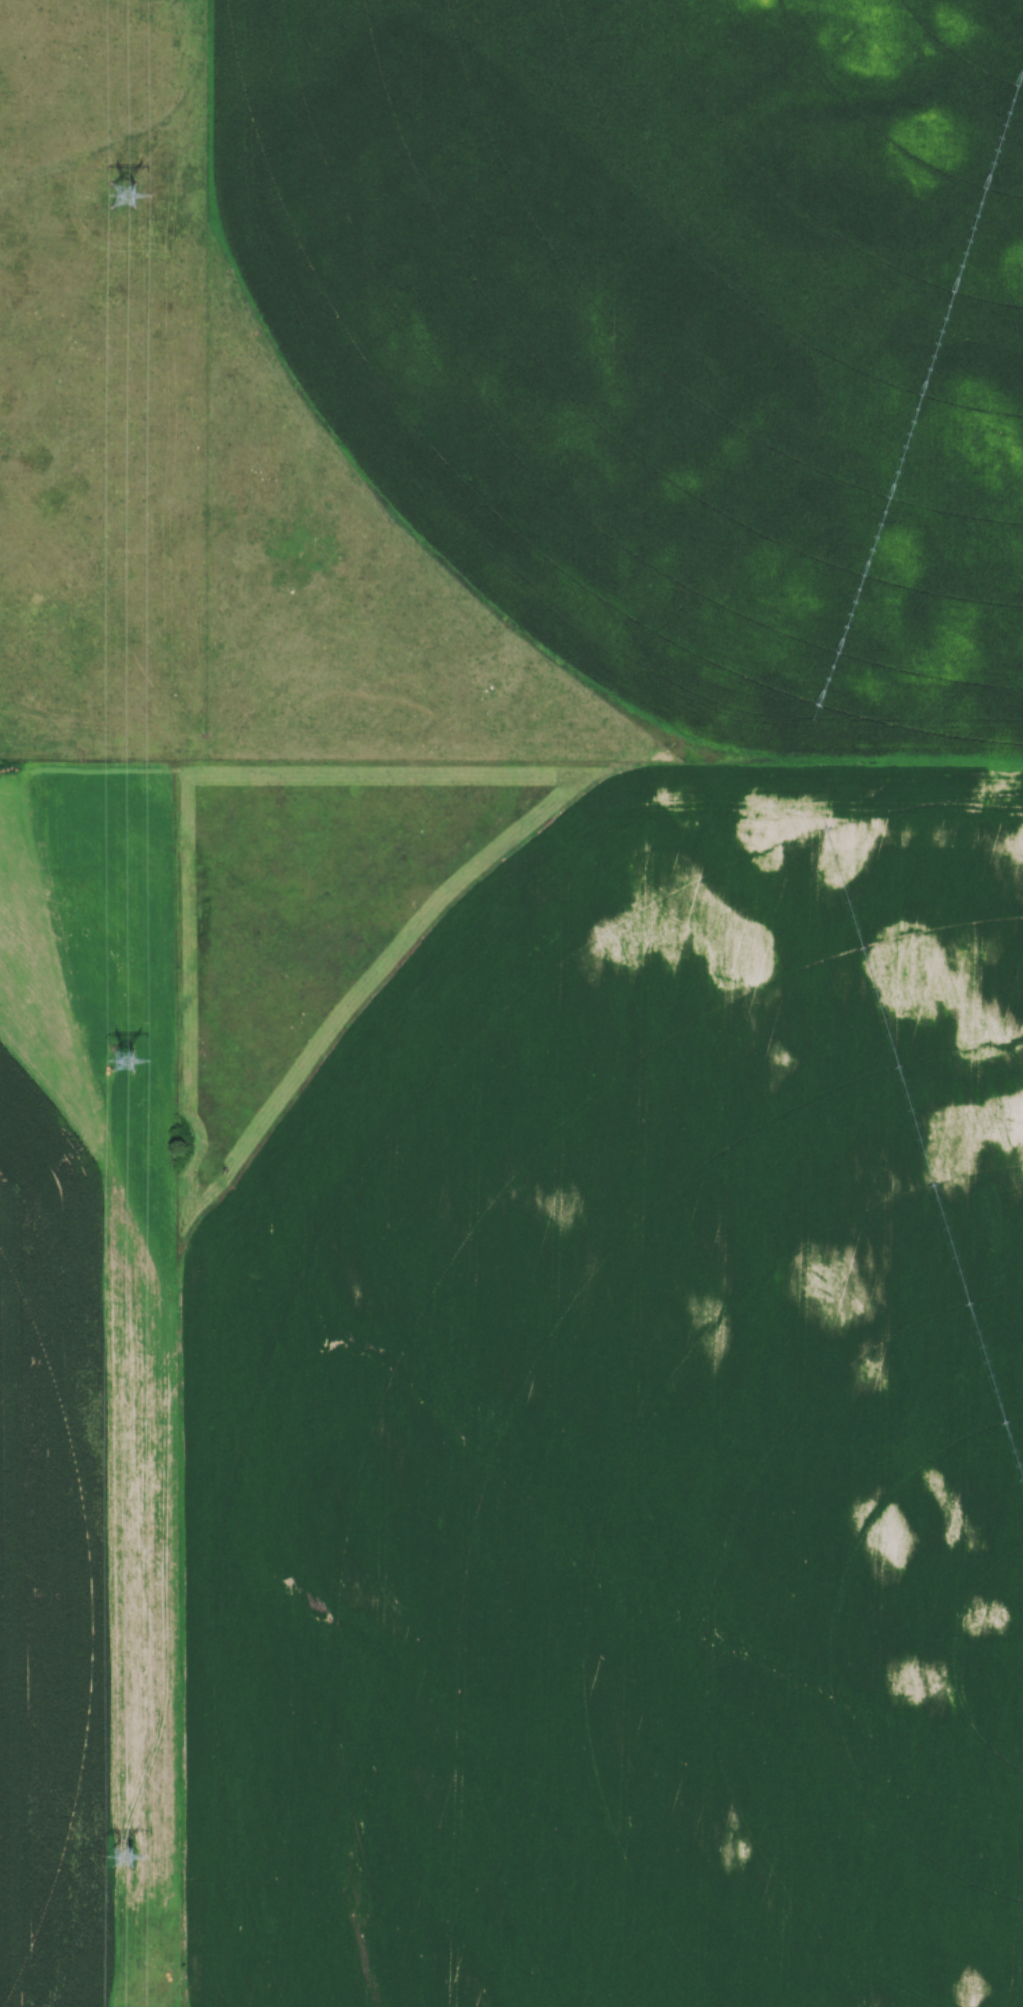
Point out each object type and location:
power tower: (125, 195)
power tower: (125, 1061)
power tower: (125, 1858)

